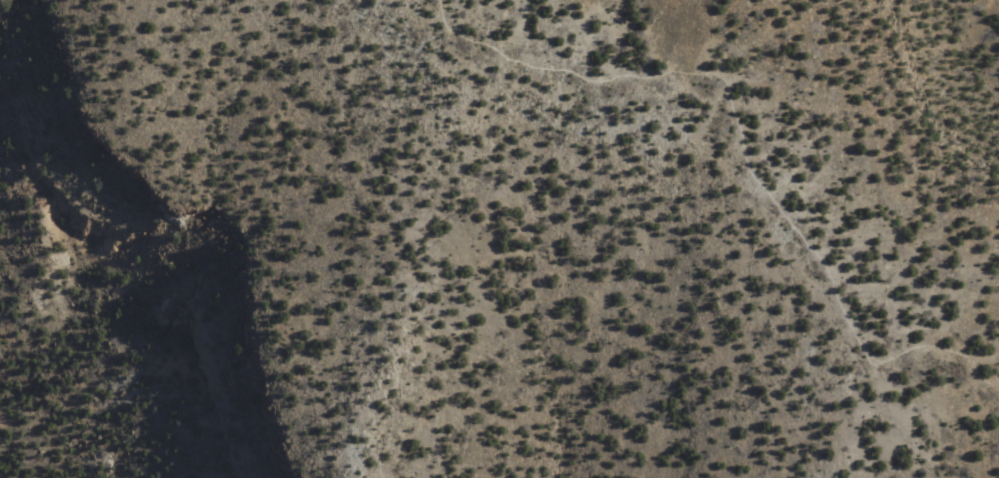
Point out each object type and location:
road: (744, 157)

